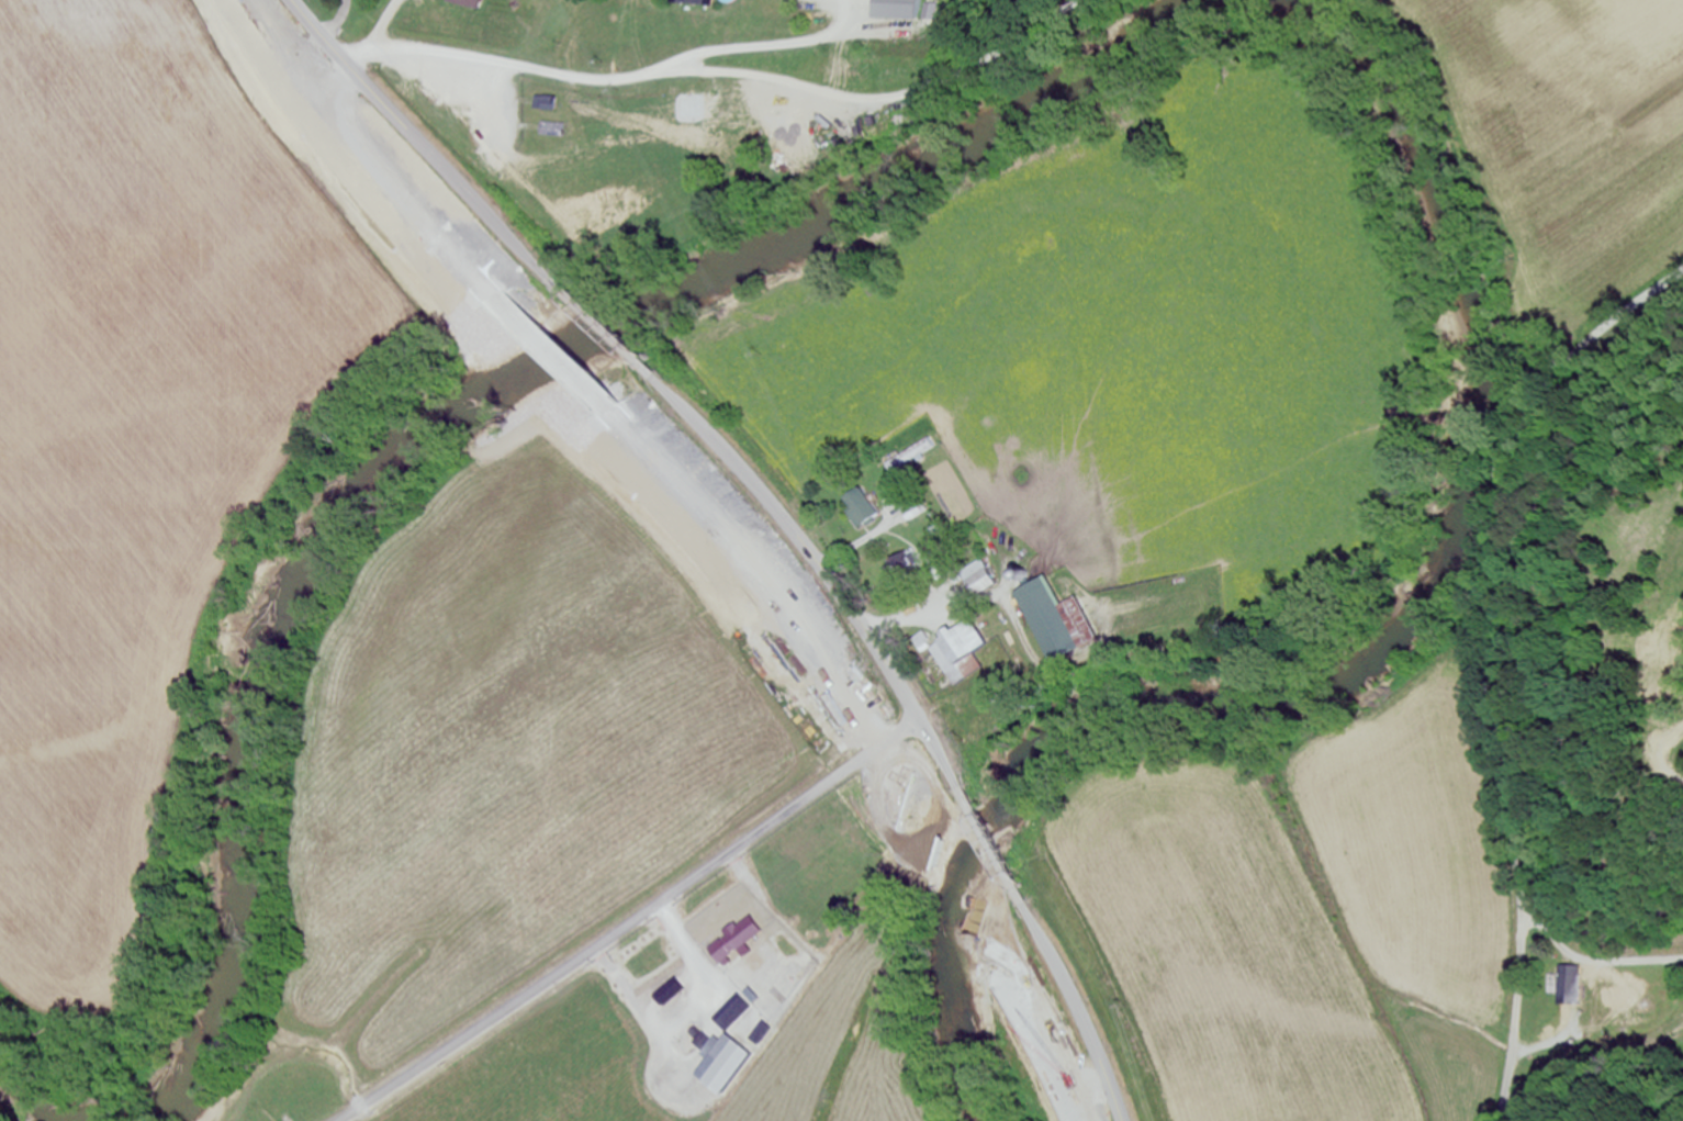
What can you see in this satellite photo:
building: (686, 3)
building: (462, 4)
road: (721, 70)
building: (773, 125)
road: (430, 150)
road: (607, 327)
river: (450, 393)
building: (907, 457)
building: (860, 509)
road: (815, 560)
building: (907, 568)
building: (976, 580)
building: (1047, 623)
building: (958, 653)
river: (1356, 653)
road: (1474, 658)
road: (981, 823)
road: (632, 922)
building: (734, 941)
building: (1566, 978)
road: (1070, 987)
building: (662, 998)
building: (731, 1013)
building: (671, 1021)
building: (719, 1065)
river: (36, 1106)

